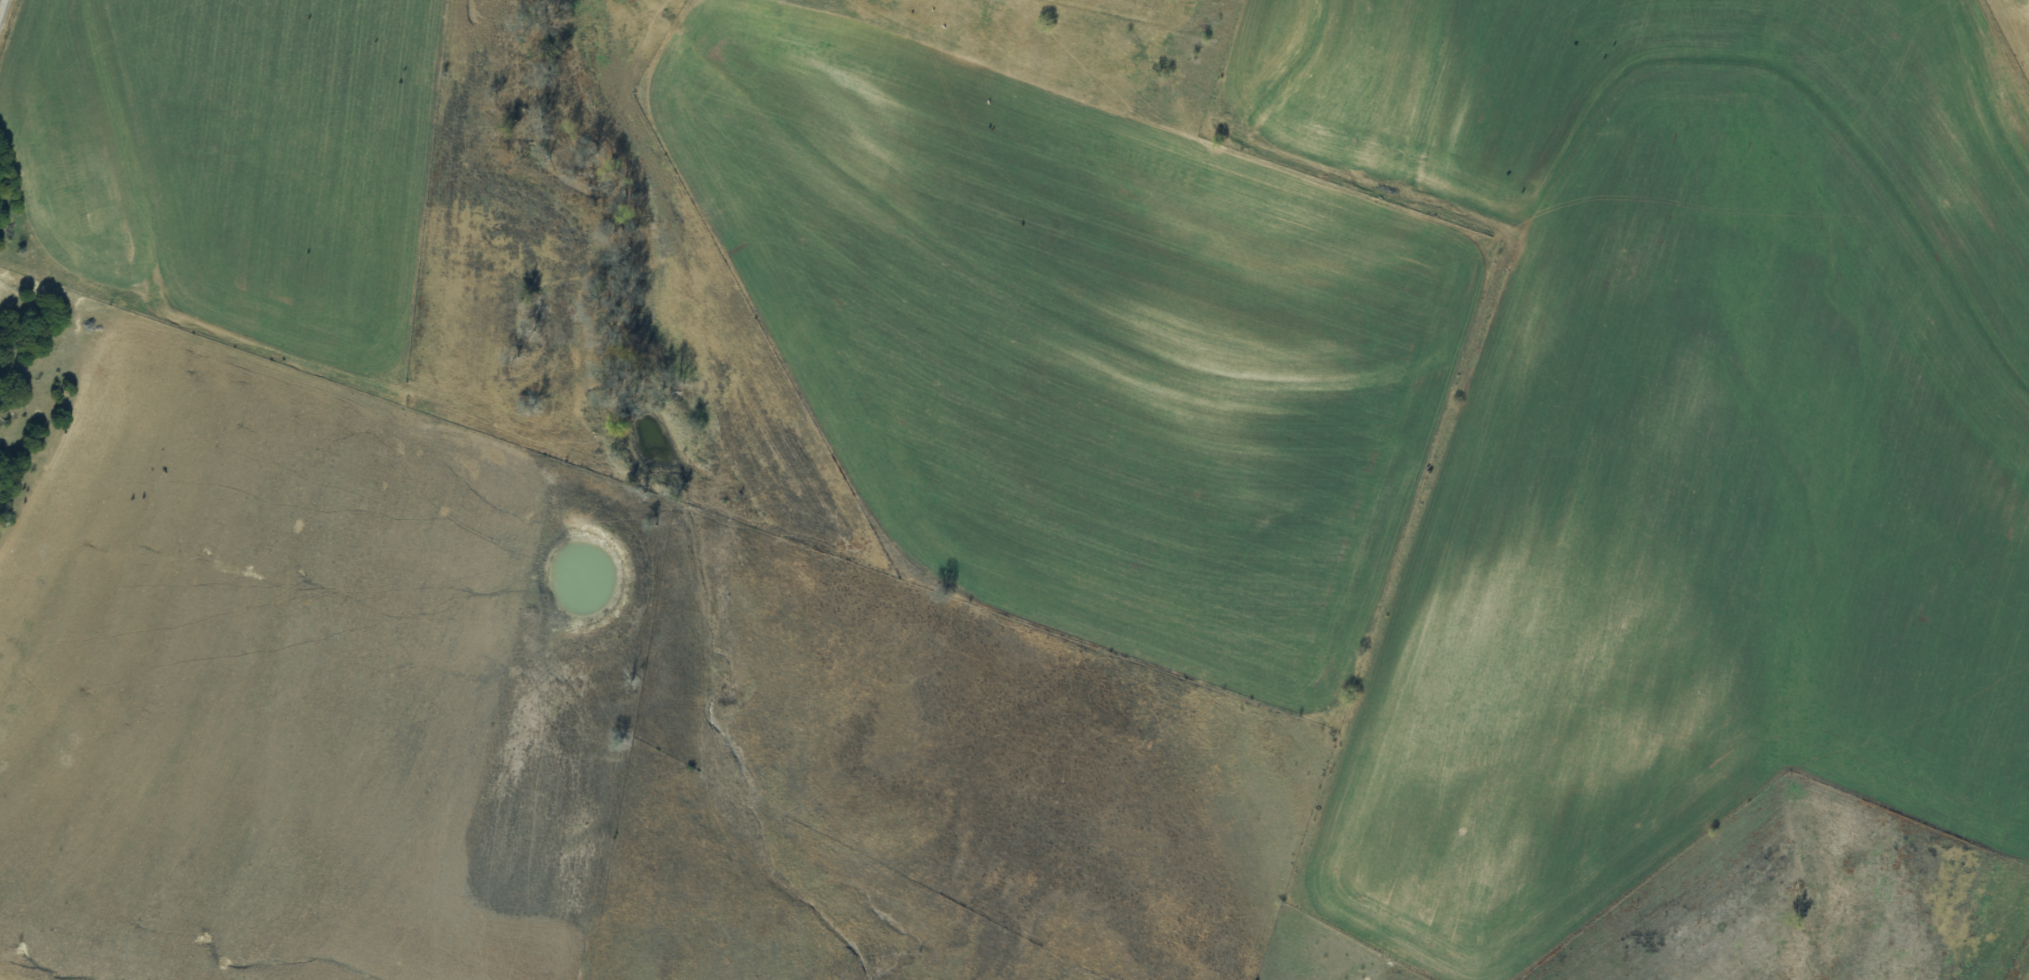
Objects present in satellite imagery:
building: (991, 14)
road: (17, 50)
road: (131, 622)

